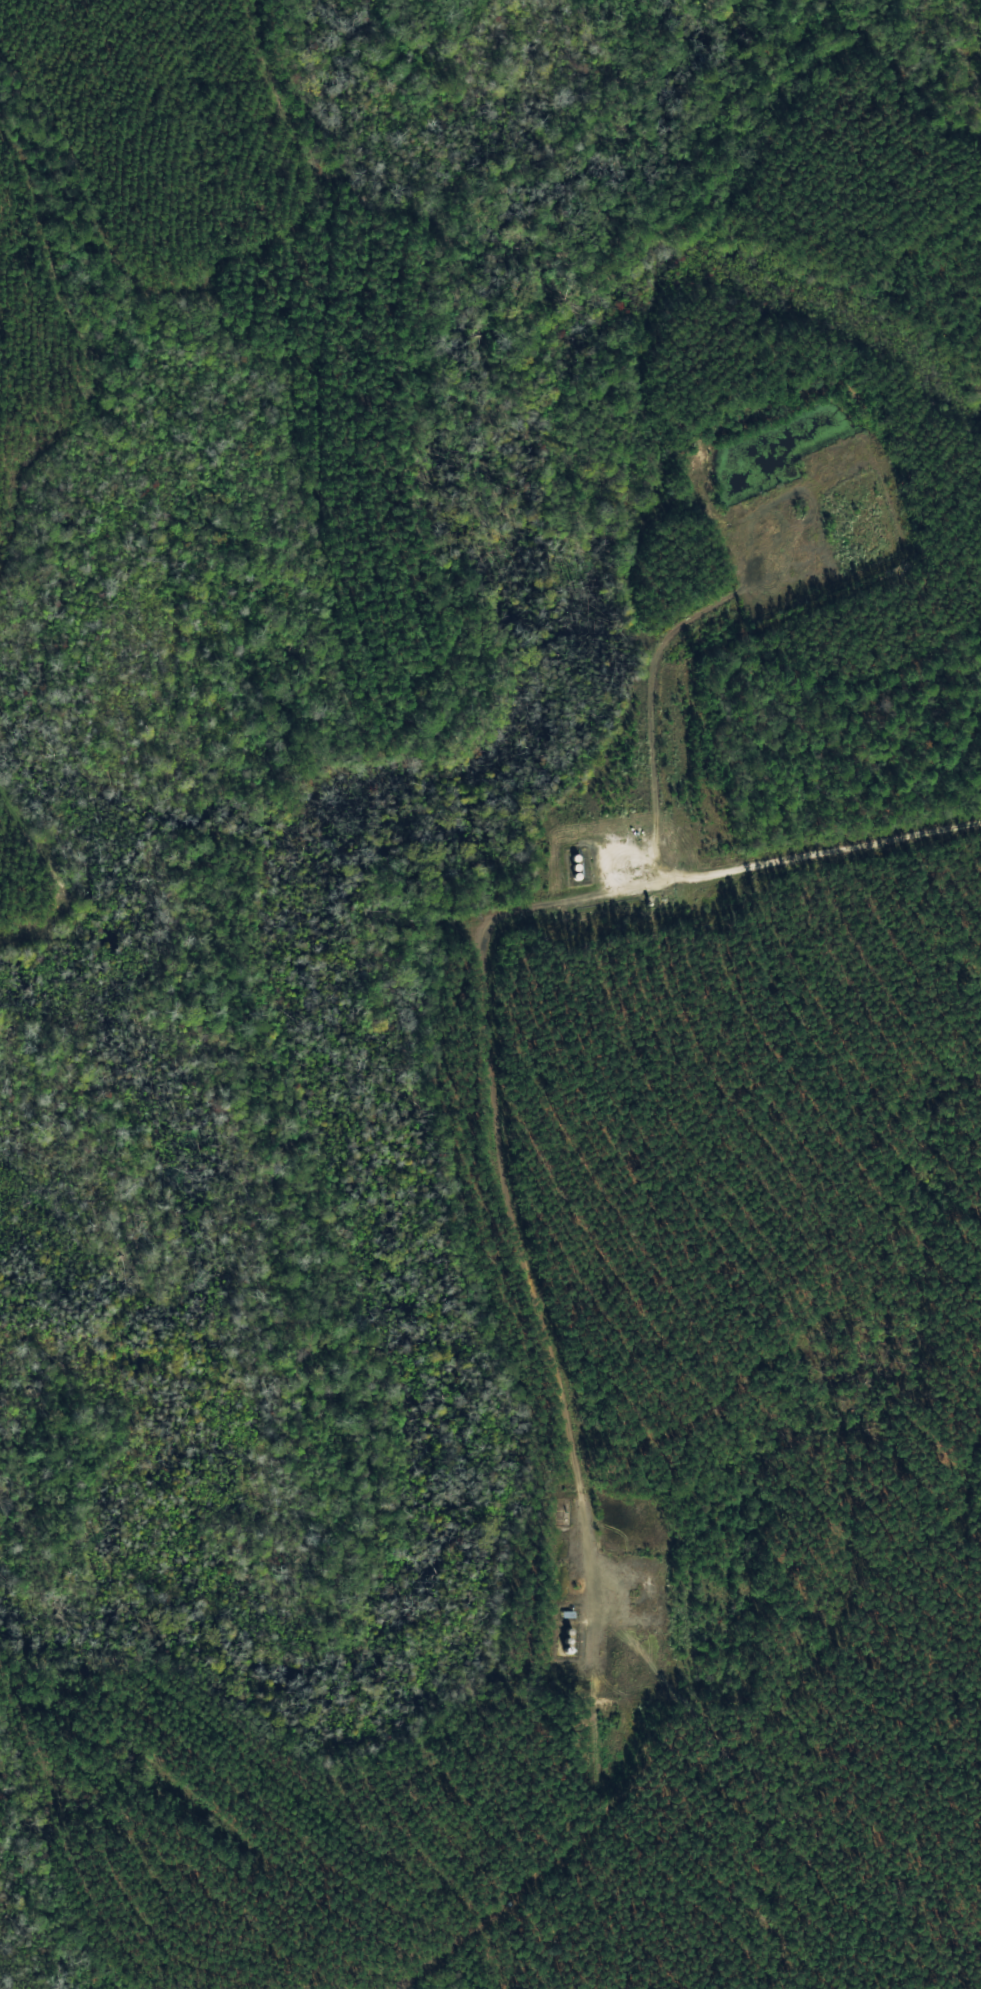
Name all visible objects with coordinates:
road: (721, 862)

